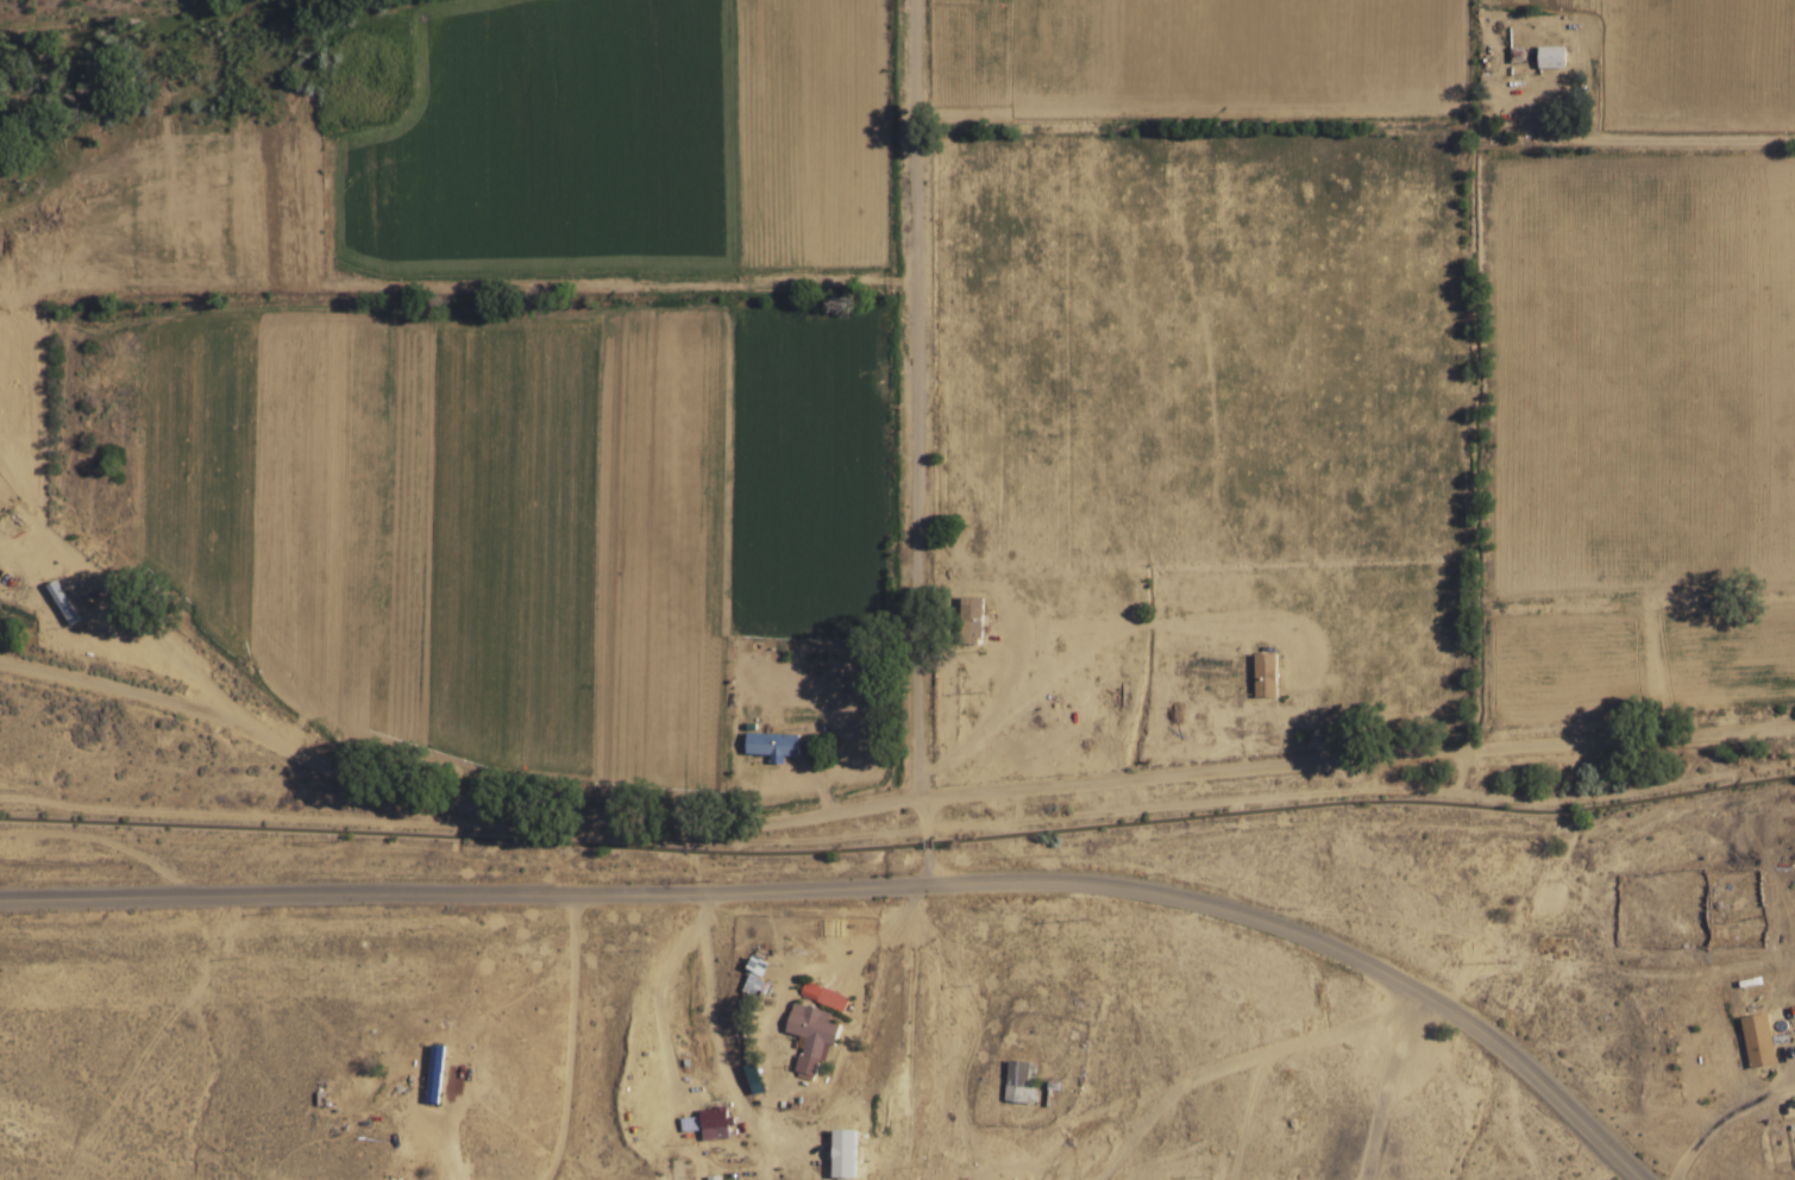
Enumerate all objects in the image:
road: (1531, 17)
building: (1552, 57)
road: (1667, 139)
road: (916, 398)
building: (65, 600)
building: (969, 620)
building: (771, 745)
road: (885, 804)
road: (871, 881)
building: (755, 977)
road: (916, 988)
building: (833, 999)
building: (810, 1035)
building: (1758, 1038)
building: (434, 1074)
building: (1021, 1081)
road: (1198, 1081)
building: (714, 1124)
building: (723, 1179)

